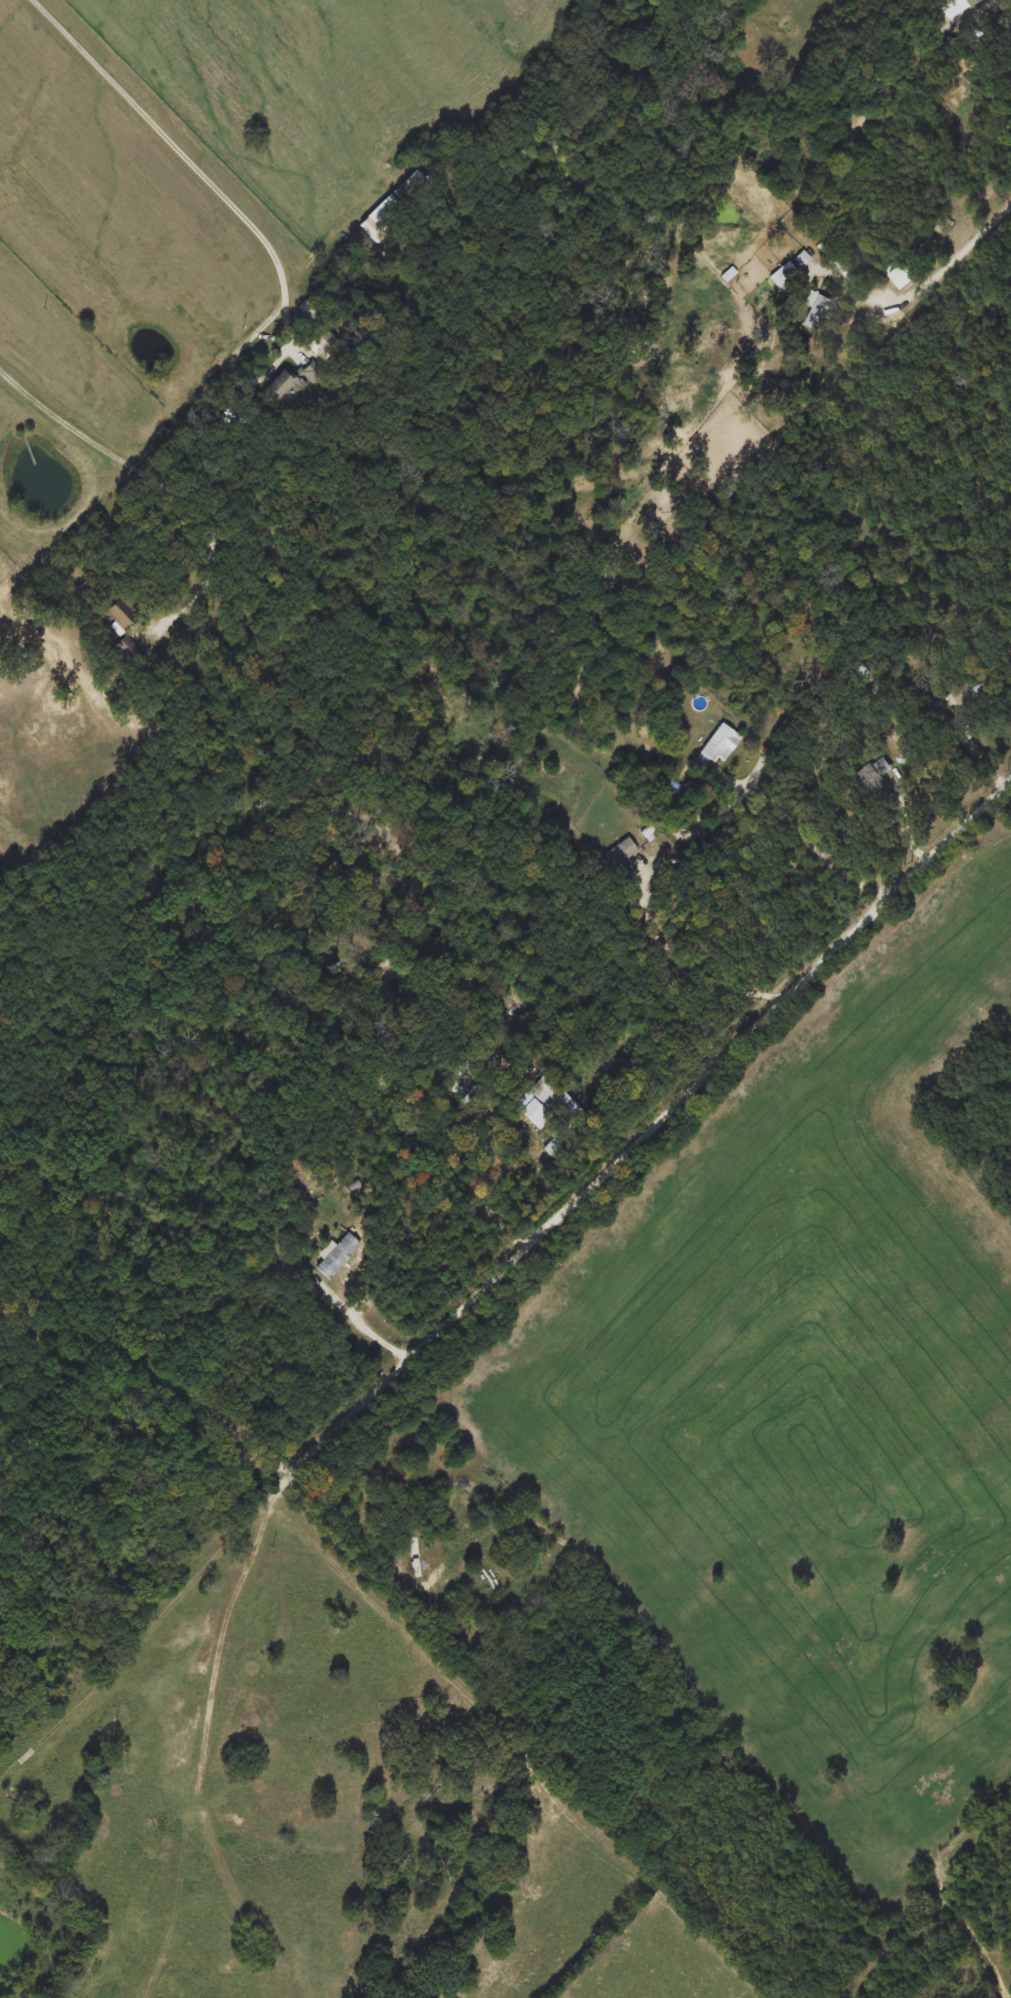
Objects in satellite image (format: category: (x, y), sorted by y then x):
road: (990, 4)
road: (771, 39)
building: (1009, 74)
road: (189, 159)
building: (406, 192)
building: (901, 275)
building: (781, 276)
road: (935, 276)
building: (815, 315)
building: (321, 345)
building: (310, 371)
building: (282, 389)
building: (231, 416)
road: (159, 480)
building: (971, 689)
building: (719, 745)
road: (973, 748)
road: (804, 834)
building: (618, 854)
road: (684, 974)
building: (551, 1100)
building: (555, 1144)
road: (476, 1198)
building: (337, 1257)
road: (449, 1319)
road: (366, 1325)
road: (107, 1543)
building: (415, 1552)
road: (141, 1638)
road: (5, 1765)

